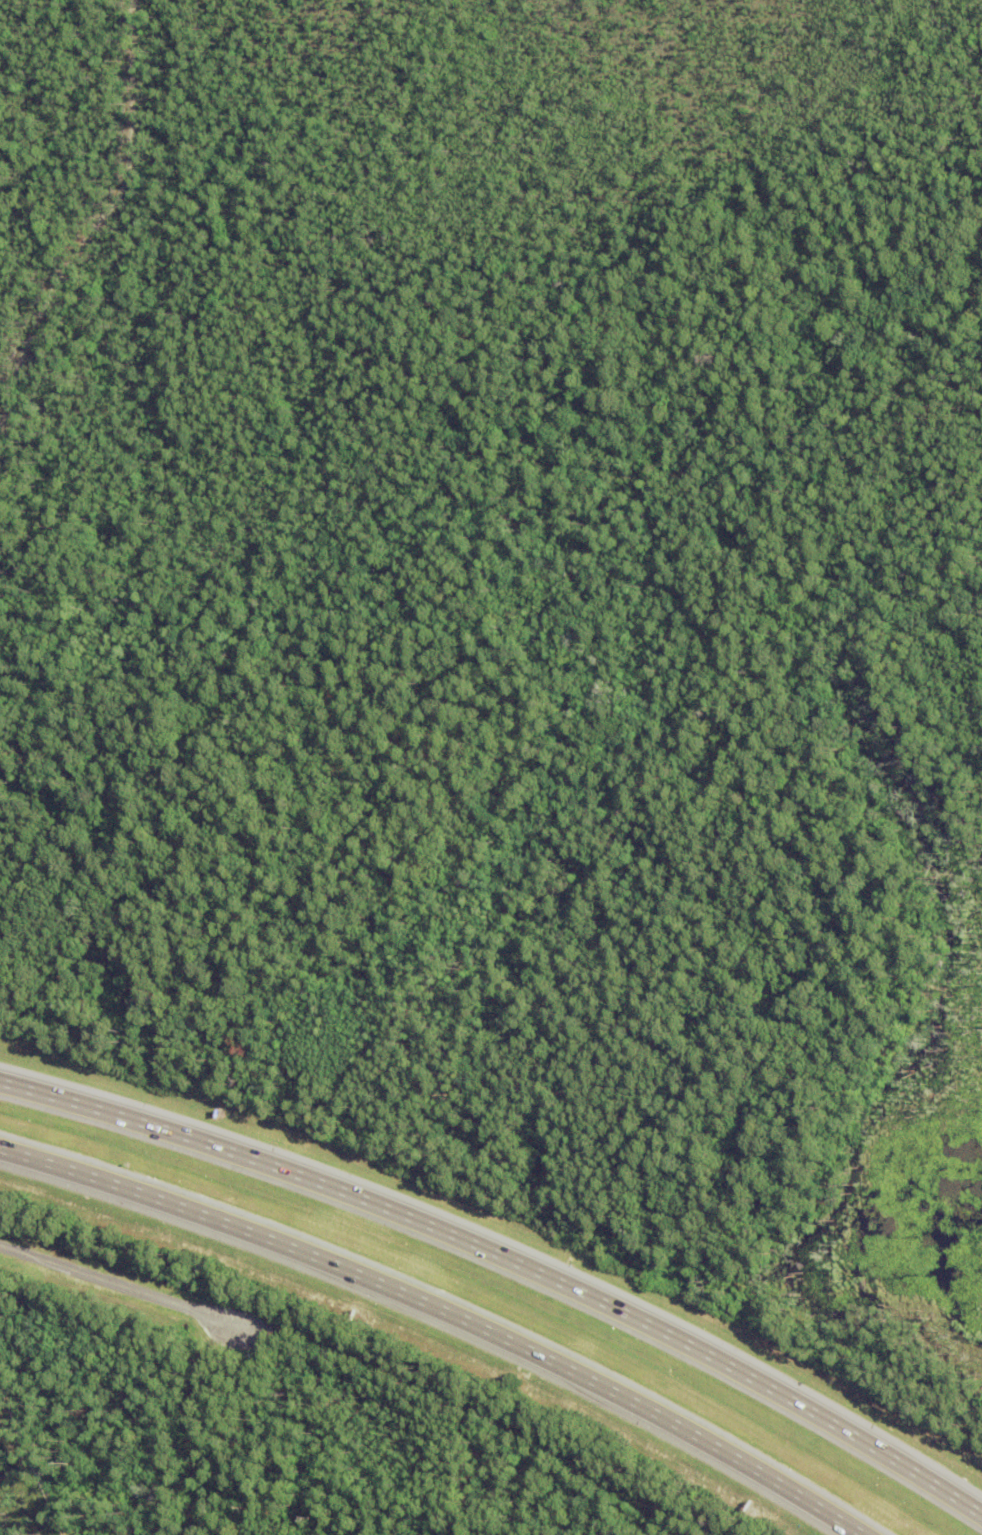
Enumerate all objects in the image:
road: (507, 1254)
road: (129, 1287)
road: (443, 1311)

